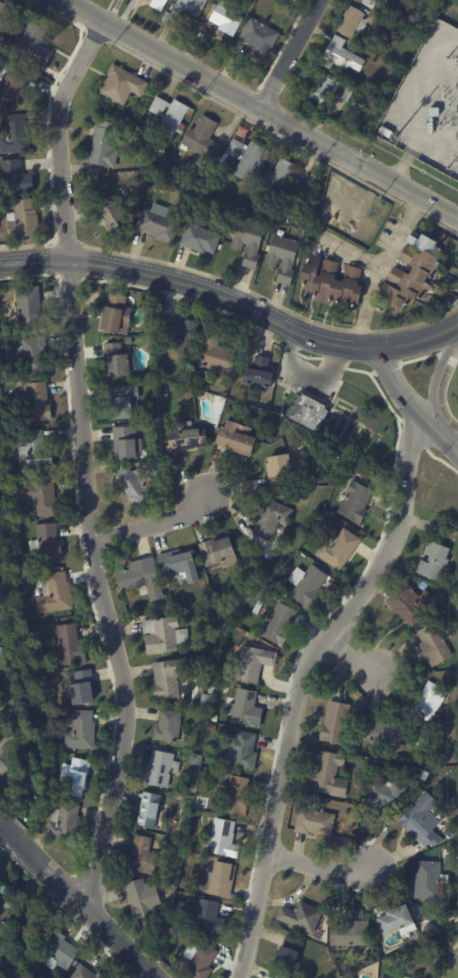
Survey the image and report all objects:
building: (285, 1)
building: (298, 3)
building: (372, 3)
building: (161, 5)
building: (190, 8)
building: (442, 13)
building: (6, 16)
building: (227, 18)
building: (391, 22)
building: (358, 23)
building: (261, 38)
building: (37, 40)
road: (289, 53)
building: (345, 57)
building: (398, 71)
building: (15, 82)
building: (123, 85)
building: (330, 90)
power substation: (427, 104)
road: (259, 108)
building: (435, 112)
building: (172, 116)
building: (388, 134)
building: (16, 135)
building: (204, 141)
building: (106, 145)
building: (248, 157)
building: (225, 159)
building: (17, 178)
building: (282, 184)
building: (112, 211)
building: (322, 213)
building: (24, 218)
building: (160, 224)
building: (200, 239)
building: (251, 241)
building: (285, 257)
road: (378, 267)
building: (415, 272)
road: (159, 277)
building: (333, 283)
building: (30, 308)
building: (115, 312)
building: (182, 332)
road: (418, 339)
building: (130, 340)
road: (341, 346)
building: (35, 355)
building: (216, 355)
building: (117, 358)
building: (260, 374)
road: (308, 374)
building: (193, 382)
road: (392, 382)
road: (433, 385)
building: (123, 401)
building: (39, 402)
building: (258, 410)
building: (308, 412)
road: (435, 436)
building: (189, 437)
building: (239, 438)
building: (128, 444)
building: (36, 452)
road: (87, 462)
building: (282, 471)
building: (314, 482)
building: (140, 484)
building: (44, 496)
building: (304, 498)
building: (356, 501)
building: (272, 519)
road: (154, 521)
building: (49, 545)
building: (339, 548)
building: (222, 553)
building: (437, 561)
building: (182, 565)
building: (21, 574)
building: (143, 579)
building: (310, 585)
building: (268, 590)
building: (283, 591)
building: (56, 594)
building: (273, 594)
building: (211, 600)
building: (413, 604)
building: (260, 607)
building: (226, 616)
building: (281, 624)
building: (233, 632)
building: (165, 636)
building: (73, 646)
building: (436, 646)
road: (357, 652)
building: (254, 663)
building: (171, 678)
building: (45, 681)
road: (301, 685)
building: (84, 689)
building: (213, 691)
building: (426, 699)
building: (207, 703)
building: (2, 705)
building: (246, 710)
building: (448, 711)
building: (51, 717)
building: (215, 719)
building: (337, 719)
building: (1, 726)
building: (169, 726)
building: (214, 728)
building: (388, 730)
building: (83, 732)
building: (10, 741)
building: (244, 751)
building: (404, 759)
building: (200, 761)
building: (7, 765)
building: (163, 769)
building: (331, 776)
building: (78, 778)
building: (238, 796)
building: (387, 796)
building: (150, 811)
building: (422, 820)
building: (316, 822)
building: (66, 823)
road: (9, 829)
building: (225, 840)
road: (26, 846)
building: (445, 851)
building: (144, 856)
road: (324, 867)
building: (429, 879)
building: (224, 881)
building: (3, 887)
building: (9, 895)
building: (146, 898)
road: (96, 917)
building: (302, 918)
building: (209, 919)
building: (398, 921)
building: (429, 926)
building: (352, 933)
building: (415, 942)
building: (376, 945)
building: (61, 950)
building: (292, 955)
building: (201, 960)
building: (87, 973)
building: (284, 976)
building: (352, 977)
building: (389, 977)

